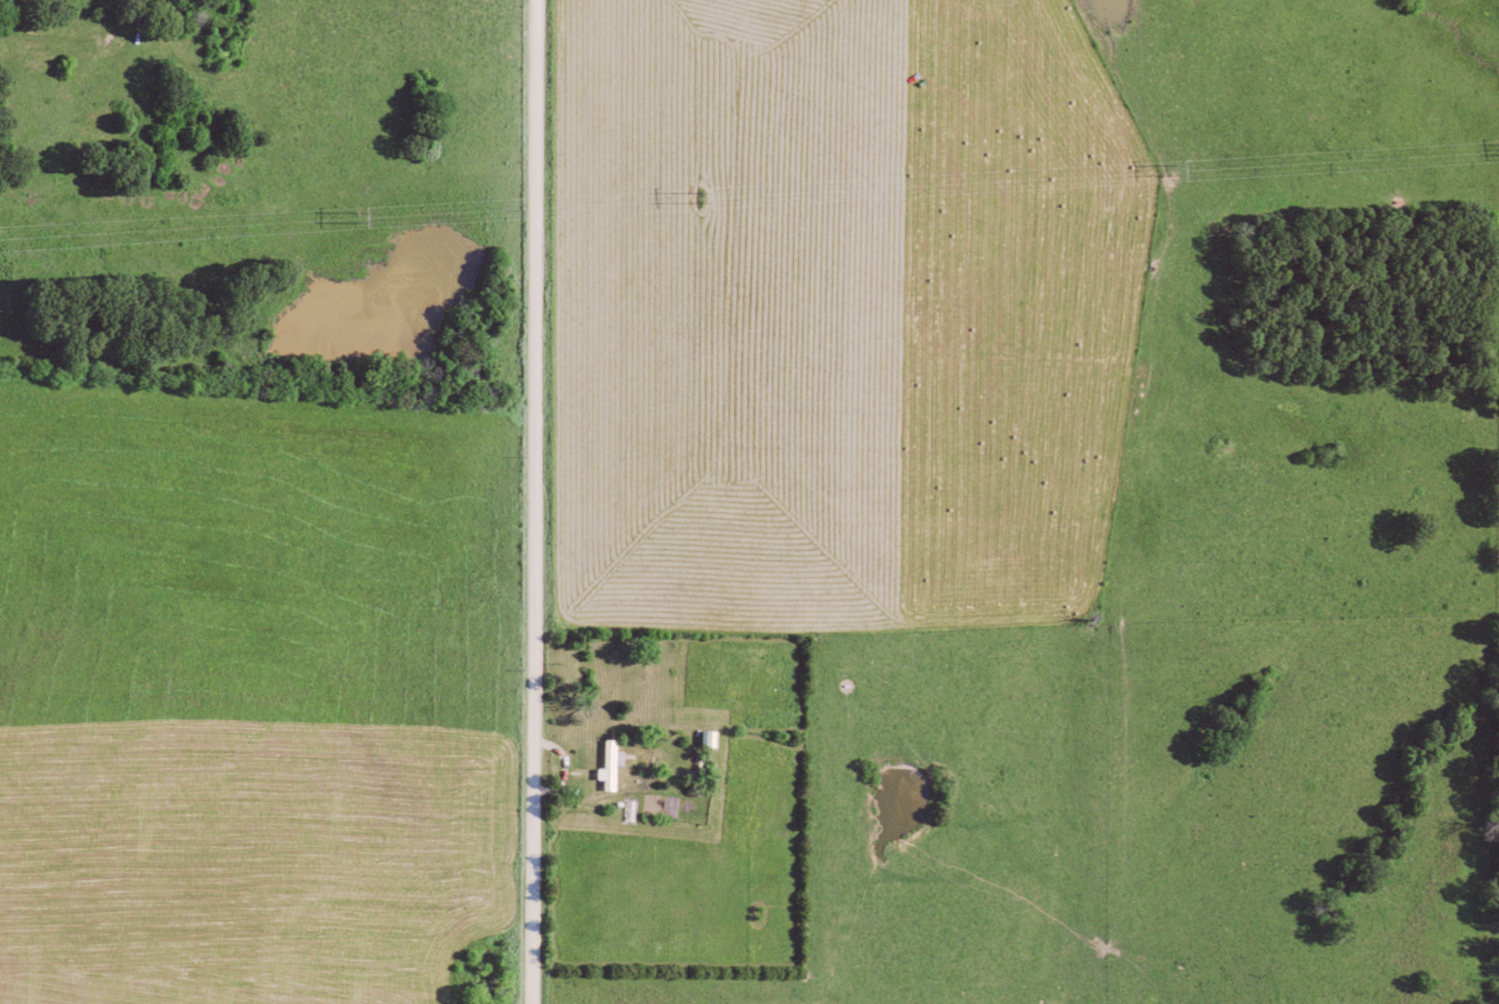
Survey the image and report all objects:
power tower: (1174, 175)
power tower: (705, 202)
power tower: (359, 223)
road: (536, 502)
building: (616, 765)

